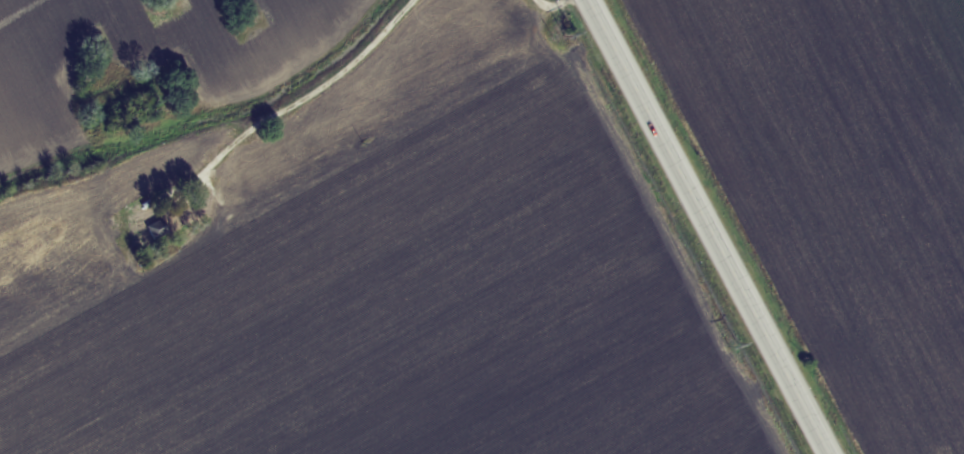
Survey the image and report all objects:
power tower: (567, 35)
road: (706, 227)
power tower: (731, 346)

